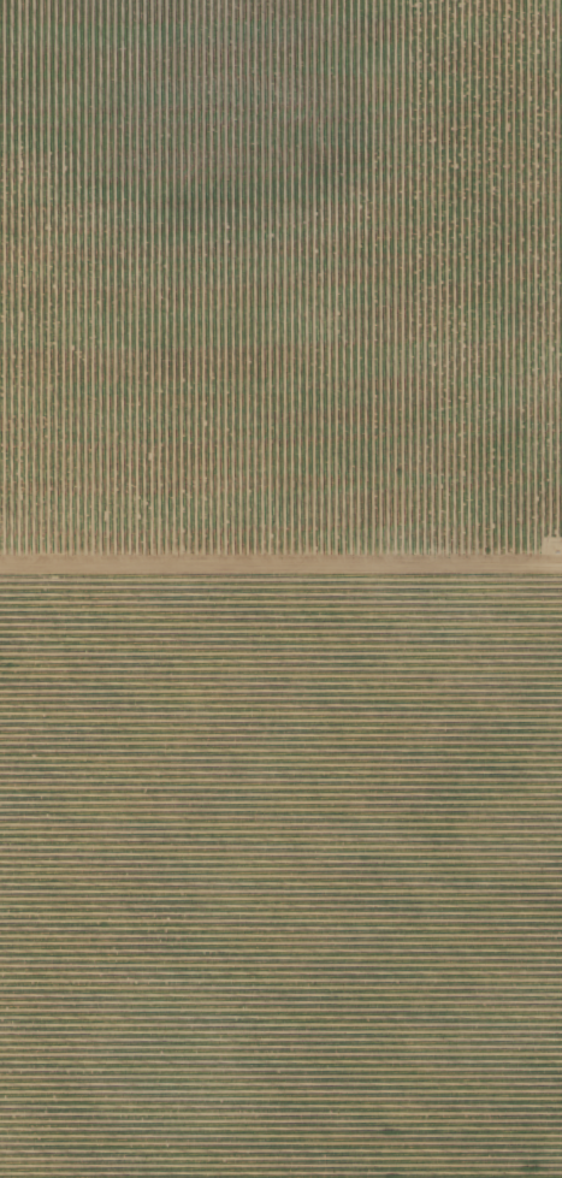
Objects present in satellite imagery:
road: (280, 596)

